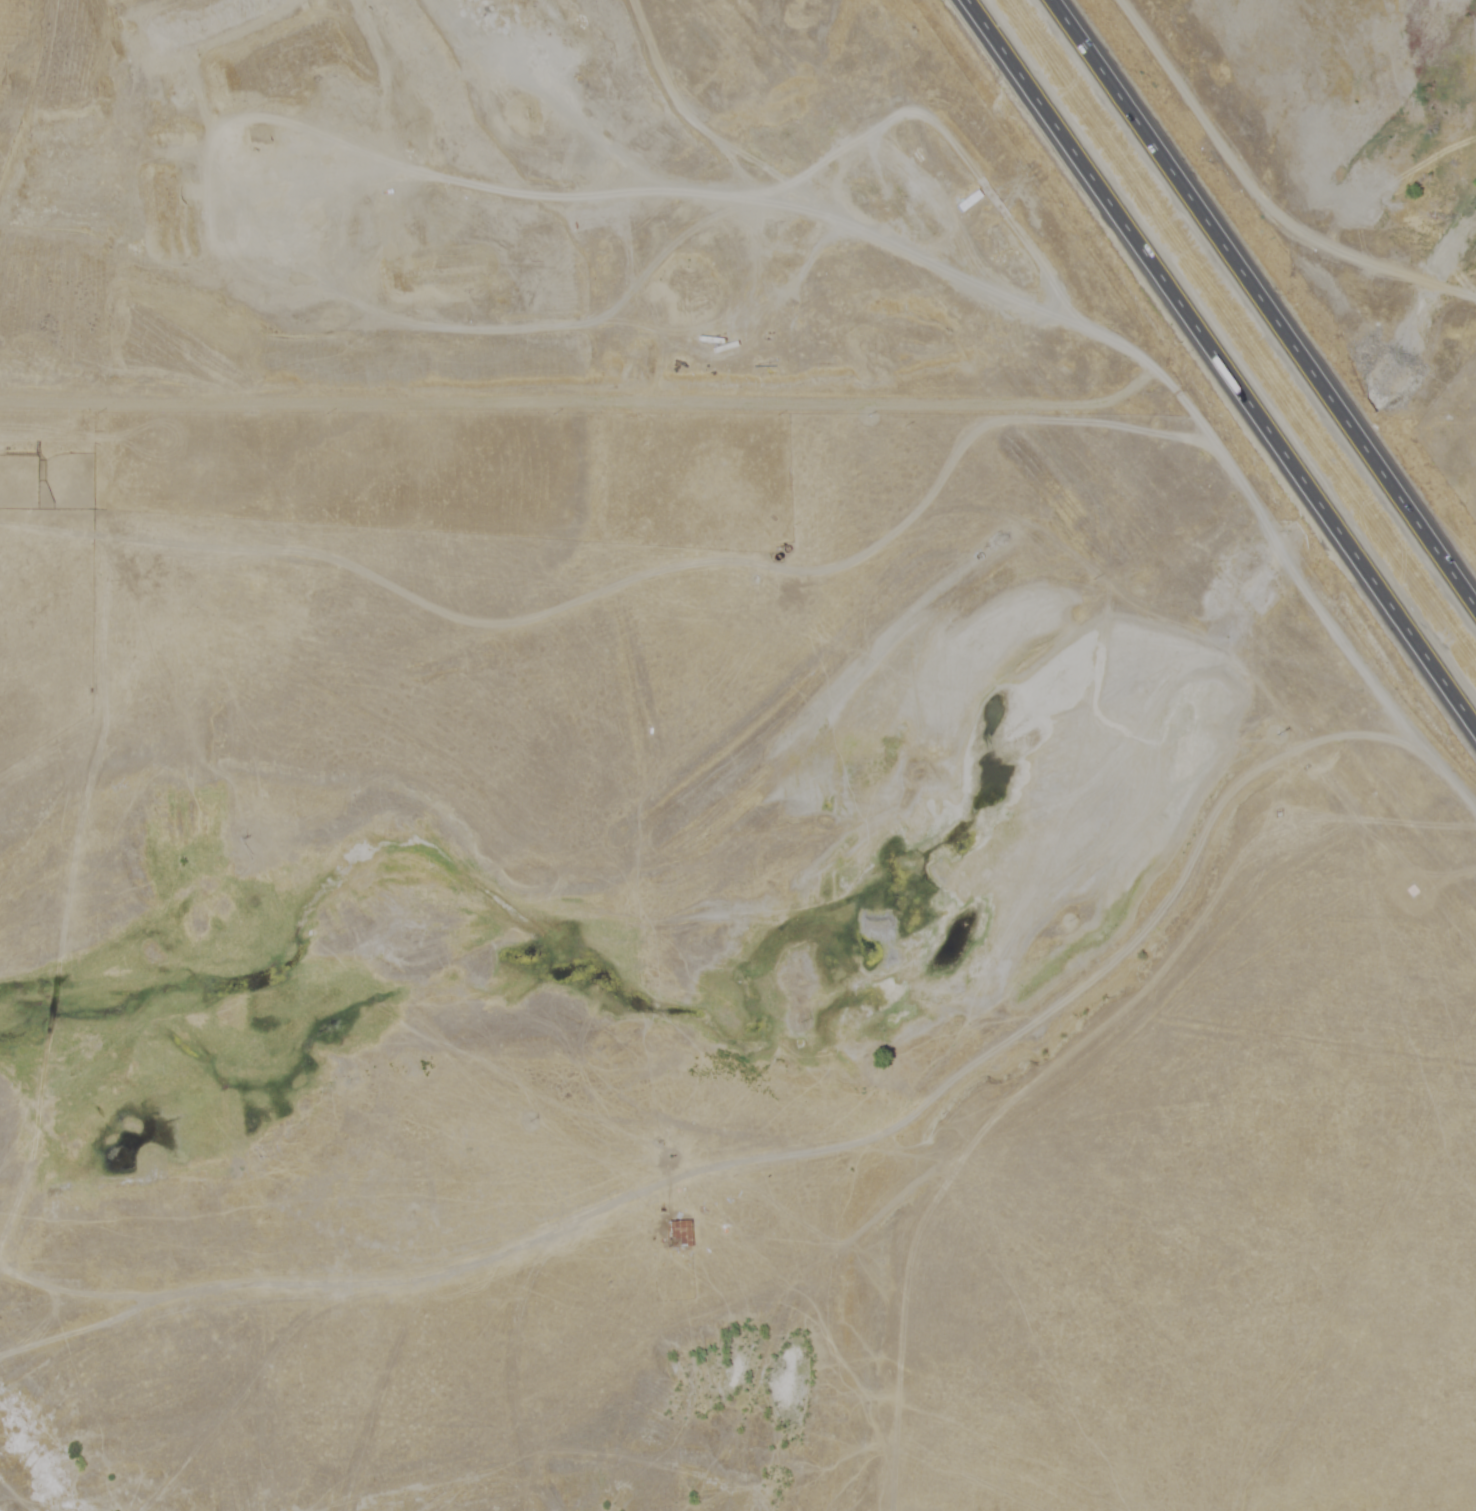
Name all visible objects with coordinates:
road: (1264, 193)
quarry: (498, 207)
road: (1262, 300)
road: (1217, 360)
road: (1136, 938)
quarry: (549, 1072)
building: (670, 1228)

